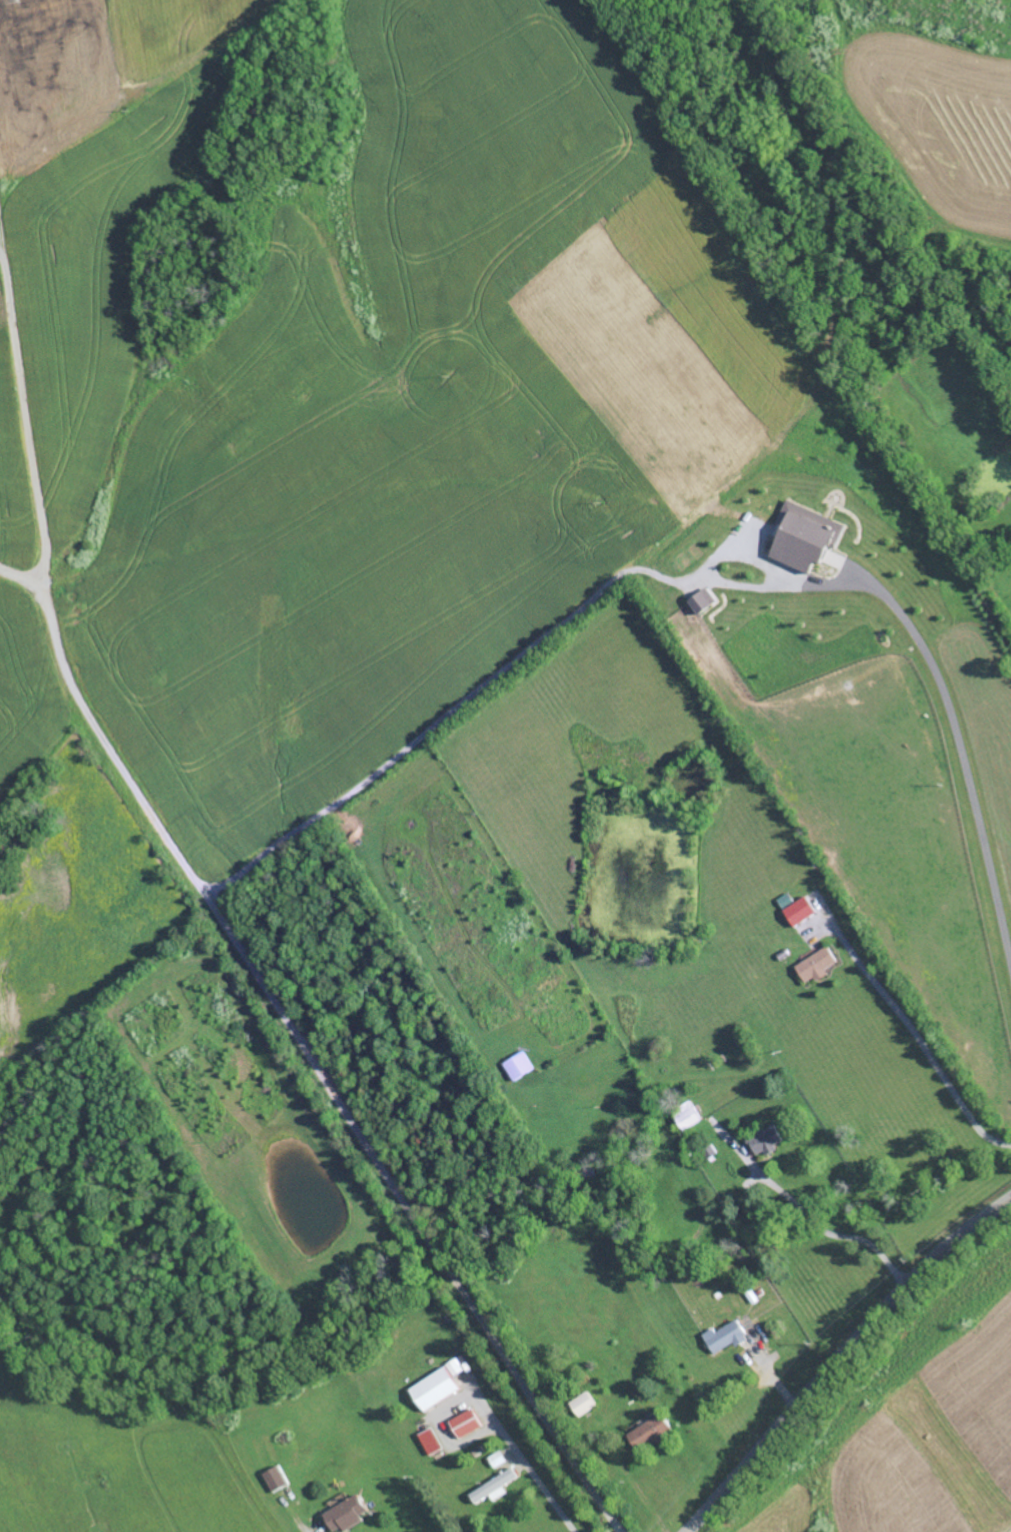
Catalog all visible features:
road: (2, 240)
road: (25, 419)
building: (805, 536)
road: (687, 581)
building: (703, 600)
building: (799, 911)
building: (817, 965)
road: (924, 1046)
road: (306, 1048)
building: (519, 1065)
building: (686, 1115)
building: (765, 1140)
road: (826, 1235)
building: (725, 1335)
road: (840, 1358)
building: (436, 1385)
building: (582, 1403)
building: (464, 1422)
building: (649, 1431)
building: (430, 1440)
building: (496, 1458)
road: (527, 1466)
building: (275, 1477)
building: (492, 1486)
road: (644, 1496)
building: (345, 1512)

